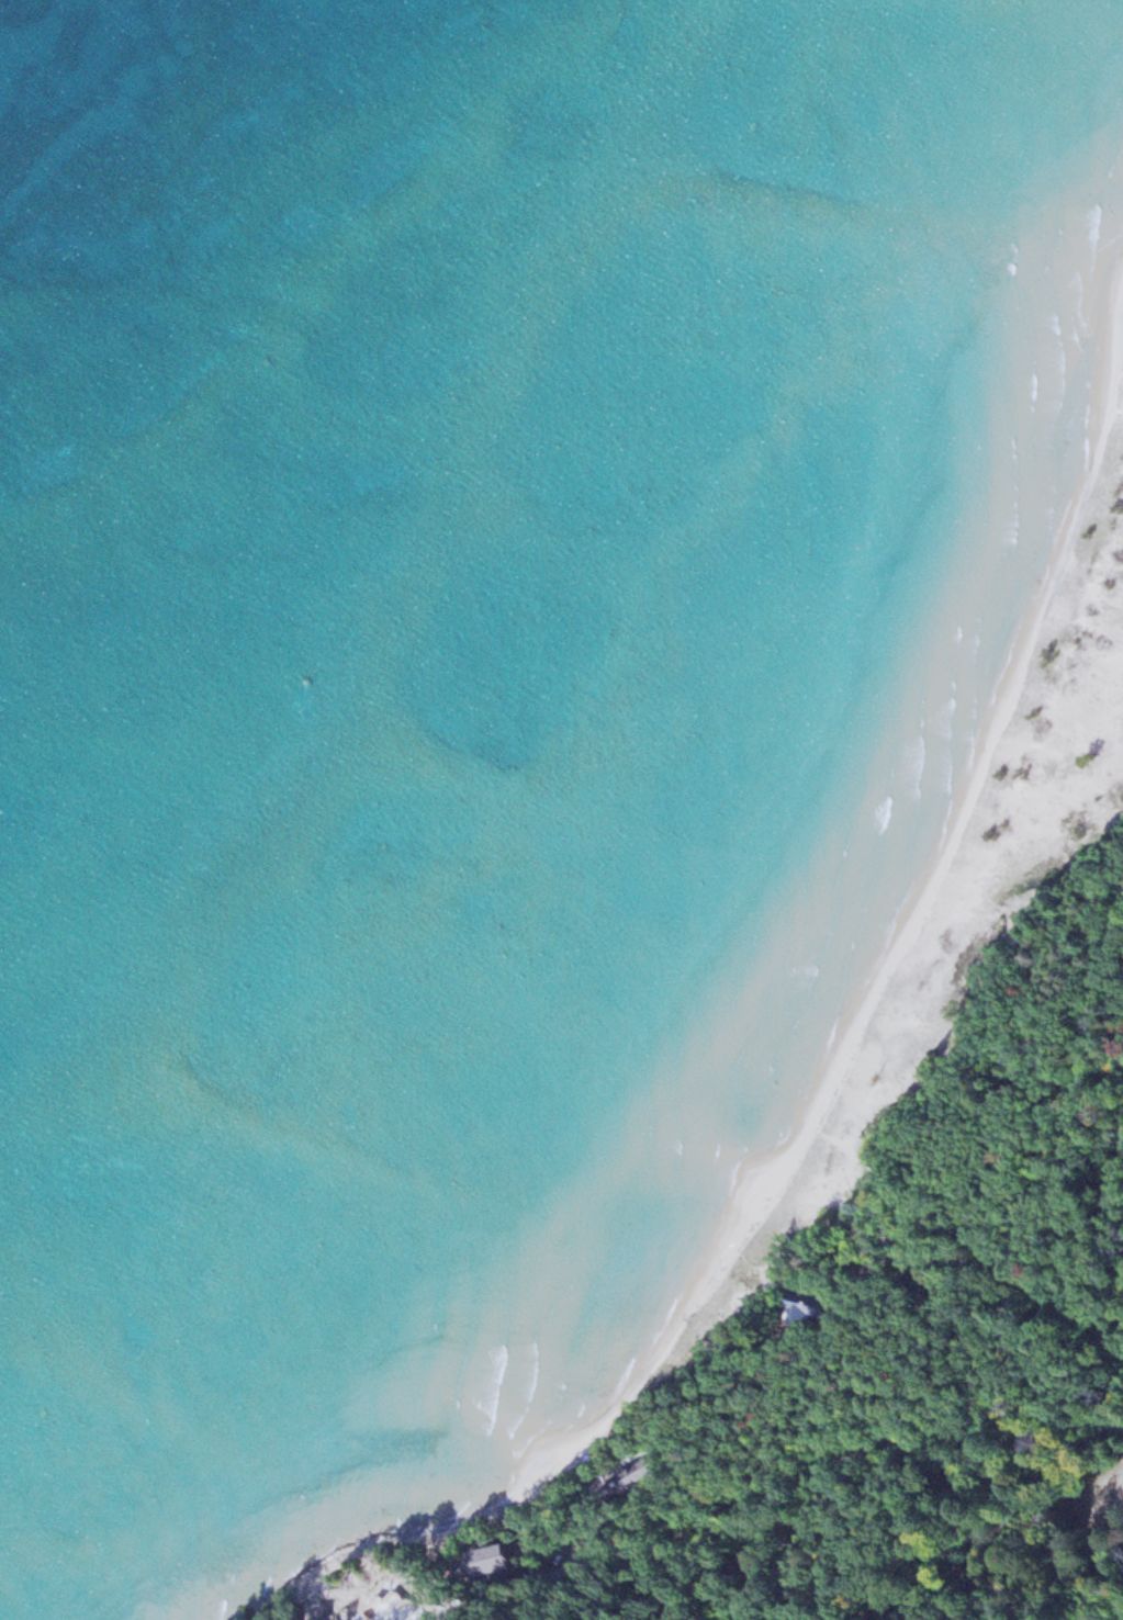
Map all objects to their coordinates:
road: (1013, 1281)
building: (811, 1307)
building: (632, 1480)

